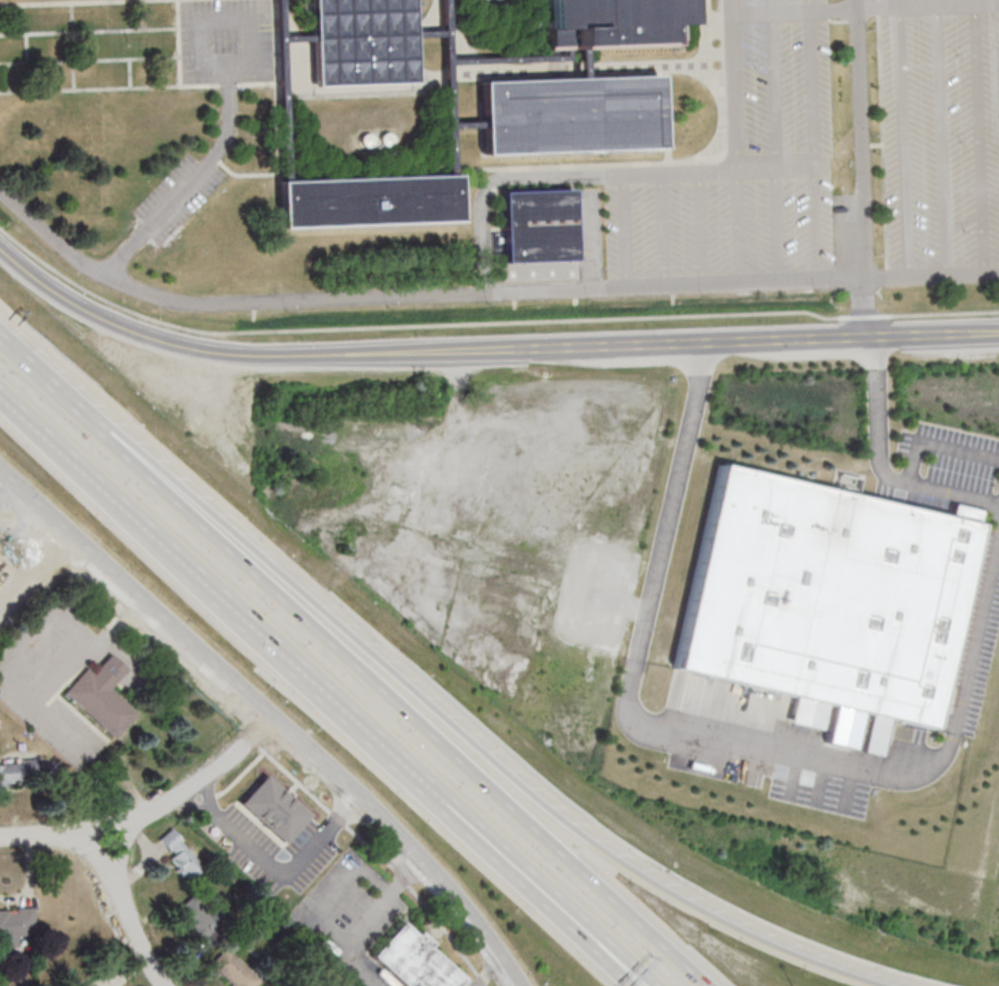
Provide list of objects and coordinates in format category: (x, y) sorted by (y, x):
road: (810, 4)
road: (771, 5)
road: (877, 6)
road: (730, 7)
road: (833, 8)
road: (791, 10)
road: (751, 12)
building: (611, 23)
parking lot: (225, 41)
building: (360, 41)
road: (812, 88)
road: (774, 90)
road: (734, 92)
building: (570, 114)
road: (903, 138)
parking lot: (940, 139)
road: (795, 168)
road: (861, 169)
road: (756, 170)
road: (717, 172)
building: (846, 172)
road: (679, 173)
parking lot: (740, 173)
road: (641, 175)
road: (499, 179)
road: (195, 180)
building: (367, 200)
road: (815, 223)
building: (536, 225)
road: (778, 225)
road: (739, 226)
road: (700, 228)
road: (662, 229)
road: (625, 231)
road: (885, 277)
road: (413, 295)
road: (945, 313)
road: (868, 316)
road: (409, 326)
road: (982, 335)
road: (915, 338)
road: (819, 342)
road: (738, 345)
road: (649, 348)
road: (564, 351)
road: (251, 356)
road: (48, 380)
road: (889, 478)
road: (953, 492)
road: (127, 510)
building: (826, 596)
building: (102, 695)
road: (402, 705)
road: (352, 712)
road: (269, 718)
road: (714, 739)
road: (467, 746)
building: (18, 772)
road: (176, 802)
building: (273, 809)
road: (28, 838)
road: (122, 852)
road: (89, 853)
building: (182, 856)
road: (277, 868)
road: (540, 890)
road: (553, 893)
road: (337, 896)
building: (201, 919)
road: (362, 924)
building: (15, 925)
road: (137, 934)
building: (415, 961)
building: (233, 970)
road: (486, 973)
road: (637, 982)
building: (95, 985)

